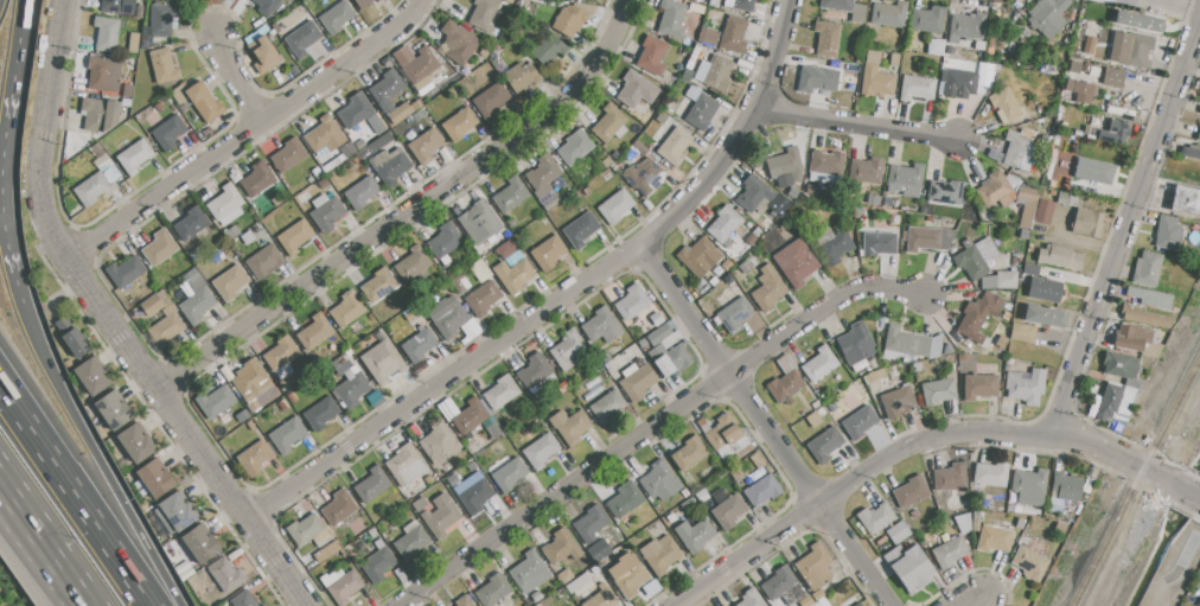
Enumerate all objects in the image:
building: (379, 0)
building: (1103, 1)
building: (362, 2)
building: (743, 5)
building: (838, 5)
building: (117, 6)
building: (266, 6)
building: (139, 12)
building: (484, 14)
building: (889, 14)
building: (1048, 15)
building: (336, 18)
building: (162, 19)
building: (569, 20)
building: (672, 20)
building: (928, 20)
building: (1138, 21)
building: (965, 27)
building: (107, 33)
building: (733, 34)
building: (710, 37)
building: (301, 39)
building: (826, 39)
building: (133, 43)
building: (457, 43)
building: (1089, 45)
road: (19, 46)
building: (934, 46)
building: (508, 50)
building: (1131, 50)
building: (550, 51)
building: (950, 51)
building: (263, 55)
building: (651, 56)
building: (894, 59)
building: (494, 63)
building: (421, 65)
building: (162, 66)
building: (1074, 66)
building: (719, 74)
building: (994, 74)
building: (103, 75)
building: (687, 75)
building: (522, 76)
building: (875, 77)
building: (1113, 77)
road: (232, 81)
building: (817, 82)
building: (959, 83)
building: (915, 88)
building: (637, 89)
building: (1079, 90)
building: (127, 91)
building: (385, 91)
building: (490, 100)
building: (203, 101)
building: (1006, 106)
building: (157, 108)
building: (353, 110)
building: (1199, 110)
building: (402, 111)
building: (702, 111)
building: (98, 114)
building: (660, 117)
building: (458, 125)
road: (862, 125)
building: (609, 126)
building: (168, 132)
road: (43, 133)
road: (245, 133)
building: (1091, 133)
building: (1115, 133)
building: (324, 135)
road: (6, 136)
building: (1198, 136)
building: (1070, 142)
building: (375, 145)
building: (426, 146)
building: (639, 147)
building: (574, 148)
building: (672, 148)
building: (347, 149)
building: (1016, 151)
building: (1191, 153)
building: (133, 155)
building: (288, 155)
building: (826, 162)
building: (104, 165)
building: (390, 165)
building: (789, 165)
building: (867, 171)
building: (1093, 171)
building: (543, 172)
building: (906, 176)
building: (644, 177)
building: (258, 178)
building: (91, 189)
building: (995, 190)
building: (945, 192)
building: (360, 193)
building: (511, 193)
building: (760, 197)
building: (1066, 199)
building: (1185, 200)
building: (225, 202)
building: (544, 202)
building: (615, 206)
building: (1026, 206)
road: (406, 210)
building: (326, 211)
building: (1043, 212)
building: (479, 222)
building: (191, 223)
building: (1087, 223)
building: (723, 224)
road: (1122, 227)
building: (581, 229)
building: (231, 234)
building: (1169, 234)
building: (248, 236)
building: (294, 237)
building: (928, 238)
building: (445, 241)
building: (877, 243)
building: (832, 244)
road: (7, 248)
building: (159, 248)
building: (508, 248)
building: (548, 253)
building: (698, 257)
building: (975, 257)
building: (1060, 257)
building: (264, 261)
building: (413, 262)
building: (796, 263)
building: (1030, 268)
building: (1147, 269)
building: (125, 272)
building: (193, 274)
building: (512, 275)
building: (1006, 280)
building: (230, 282)
building: (198, 283)
building: (460, 283)
building: (378, 285)
building: (767, 288)
building: (1043, 289)
building: (483, 296)
road: (562, 298)
building: (1150, 298)
building: (632, 301)
building: (197, 304)
building: (151, 306)
building: (347, 308)
building: (734, 314)
building: (447, 315)
building: (977, 317)
building: (1046, 317)
building: (1145, 317)
building: (656, 319)
building: (601, 326)
building: (166, 328)
building: (314, 331)
building: (1022, 332)
building: (658, 334)
building: (71, 338)
building: (670, 339)
building: (1001, 340)
building: (1136, 340)
building: (912, 343)
building: (419, 345)
building: (856, 345)
building: (567, 350)
building: (656, 351)
building: (280, 353)
building: (605, 356)
building: (962, 357)
building: (672, 361)
building: (1008, 361)
building: (383, 362)
building: (785, 364)
building: (819, 364)
building: (1121, 365)
building: (915, 366)
building: (283, 371)
building: (536, 374)
building: (92, 375)
building: (249, 377)
building: (638, 382)
building: (978, 385)
building: (1026, 385)
building: (784, 387)
building: (351, 388)
building: (937, 390)
building: (500, 393)
building: (292, 397)
building: (216, 401)
building: (896, 402)
building: (1115, 404)
building: (282, 406)
building: (607, 407)
building: (831, 407)
building: (113, 410)
building: (320, 413)
building: (470, 419)
building: (813, 419)
building: (858, 422)
road: (764, 425)
building: (570, 426)
road: (658, 426)
building: (493, 430)
building: (723, 432)
road: (185, 434)
building: (287, 435)
building: (439, 442)
building: (824, 444)
building: (136, 445)
road: (905, 447)
building: (540, 451)
building: (689, 454)
building: (254, 458)
road: (98, 461)
building: (757, 461)
building: (406, 465)
building: (506, 473)
building: (738, 473)
building: (990, 474)
building: (951, 478)
building: (154, 479)
building: (659, 481)
railway: (1136, 483)
building: (372, 484)
building: (1029, 486)
building: (1066, 486)
building: (762, 490)
building: (911, 491)
road: (76, 492)
road: (1186, 492)
building: (701, 496)
building: (477, 497)
building: (625, 499)
building: (688, 505)
building: (339, 508)
building: (1011, 508)
building: (178, 512)
building: (728, 512)
building: (440, 516)
building: (875, 517)
building: (977, 519)
building: (591, 523)
building: (963, 523)
building: (307, 531)
building: (898, 532)
building: (694, 535)
building: (994, 538)
road: (39, 542)
building: (410, 542)
building: (199, 544)
building: (561, 547)
building: (327, 550)
building: (599, 550)
building: (949, 551)
building: (660, 553)
building: (1032, 560)
building: (377, 564)
building: (815, 567)
building: (909, 568)
building: (529, 572)
building: (564, 575)
building: (627, 575)
building: (224, 576)
building: (193, 583)
building: (340, 585)
building: (580, 585)
building: (783, 587)
building: (493, 589)
building: (601, 598)
building: (751, 598)
building: (243, 600)
road: (81, 601)
building: (462, 601)
road: (965, 601)
building: (1199, 604)
building: (263, 605)
building: (858, 605)

